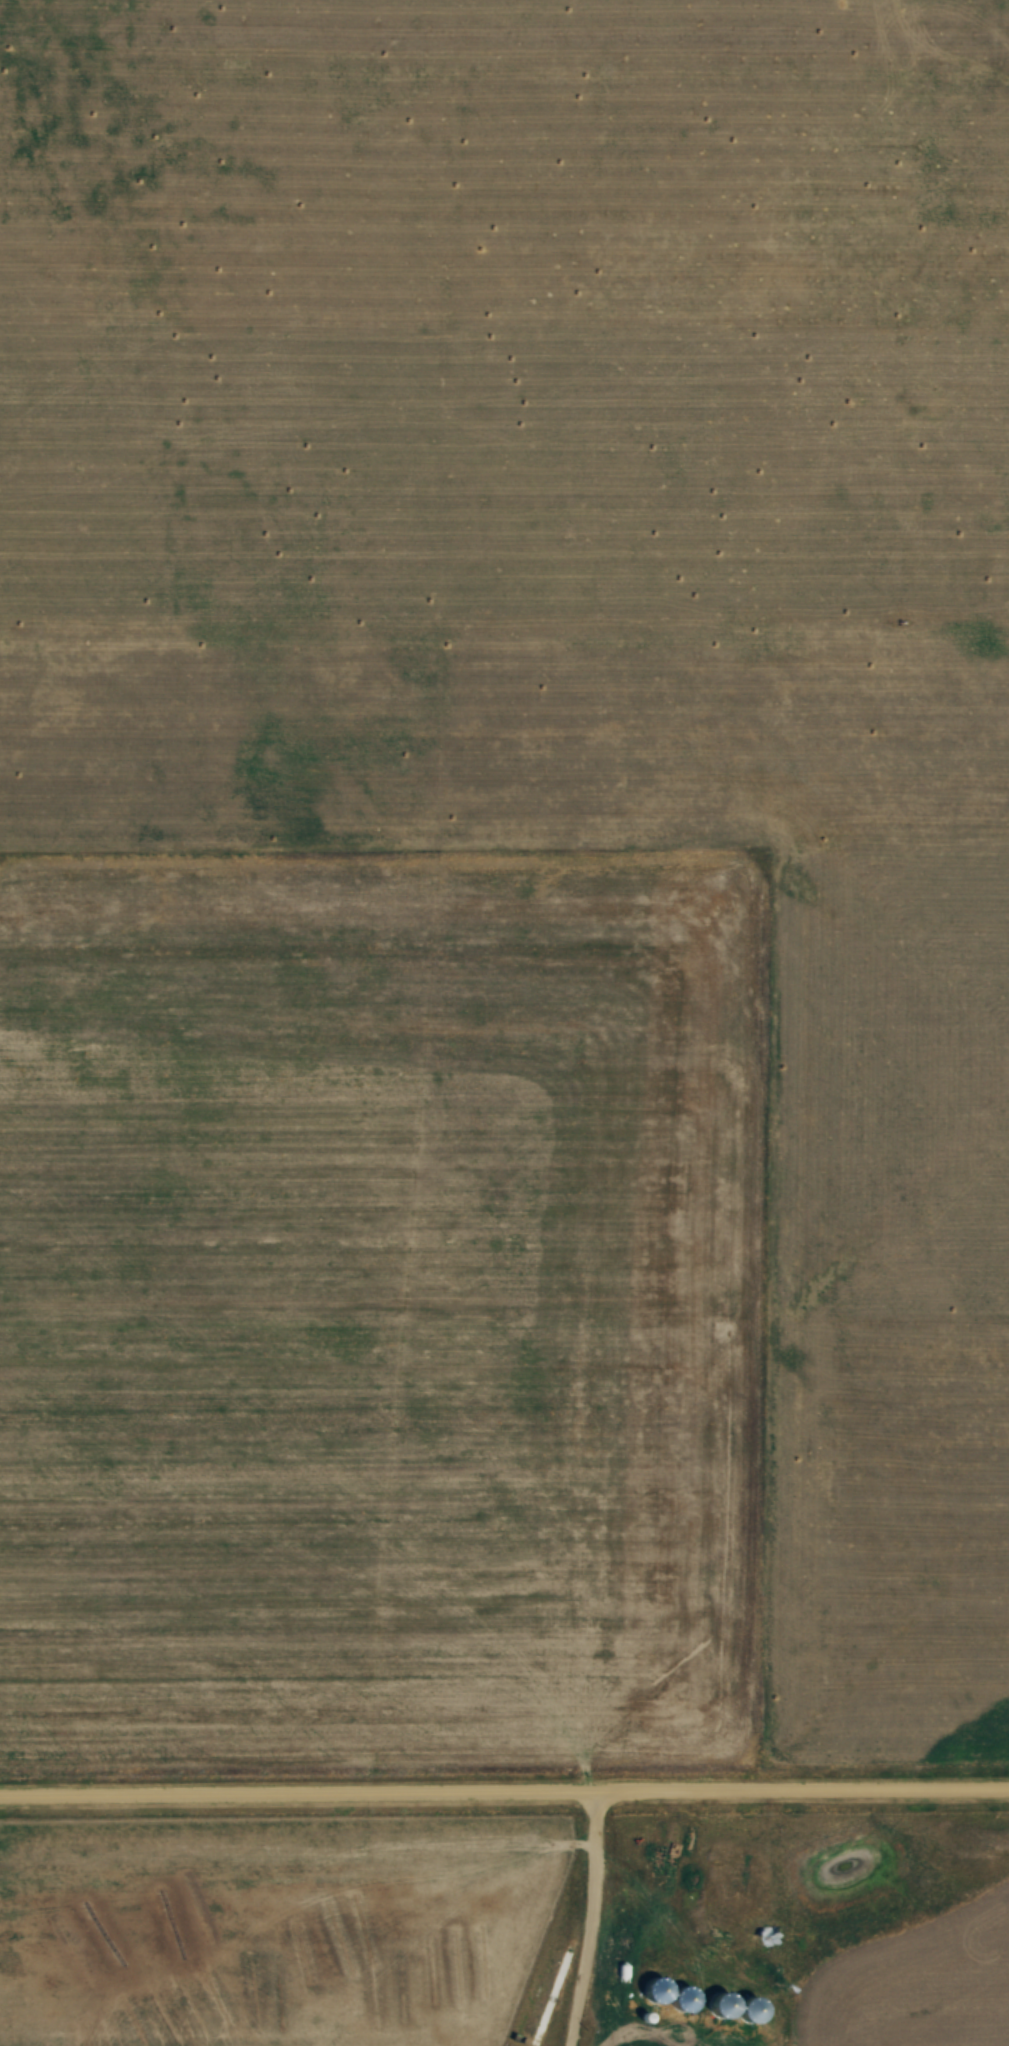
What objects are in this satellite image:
road: (504, 1800)
road: (589, 1923)
crop: (916, 1985)
silo: (654, 2001)
silo: (681, 2010)
silo: (719, 2016)
silo: (749, 2021)

